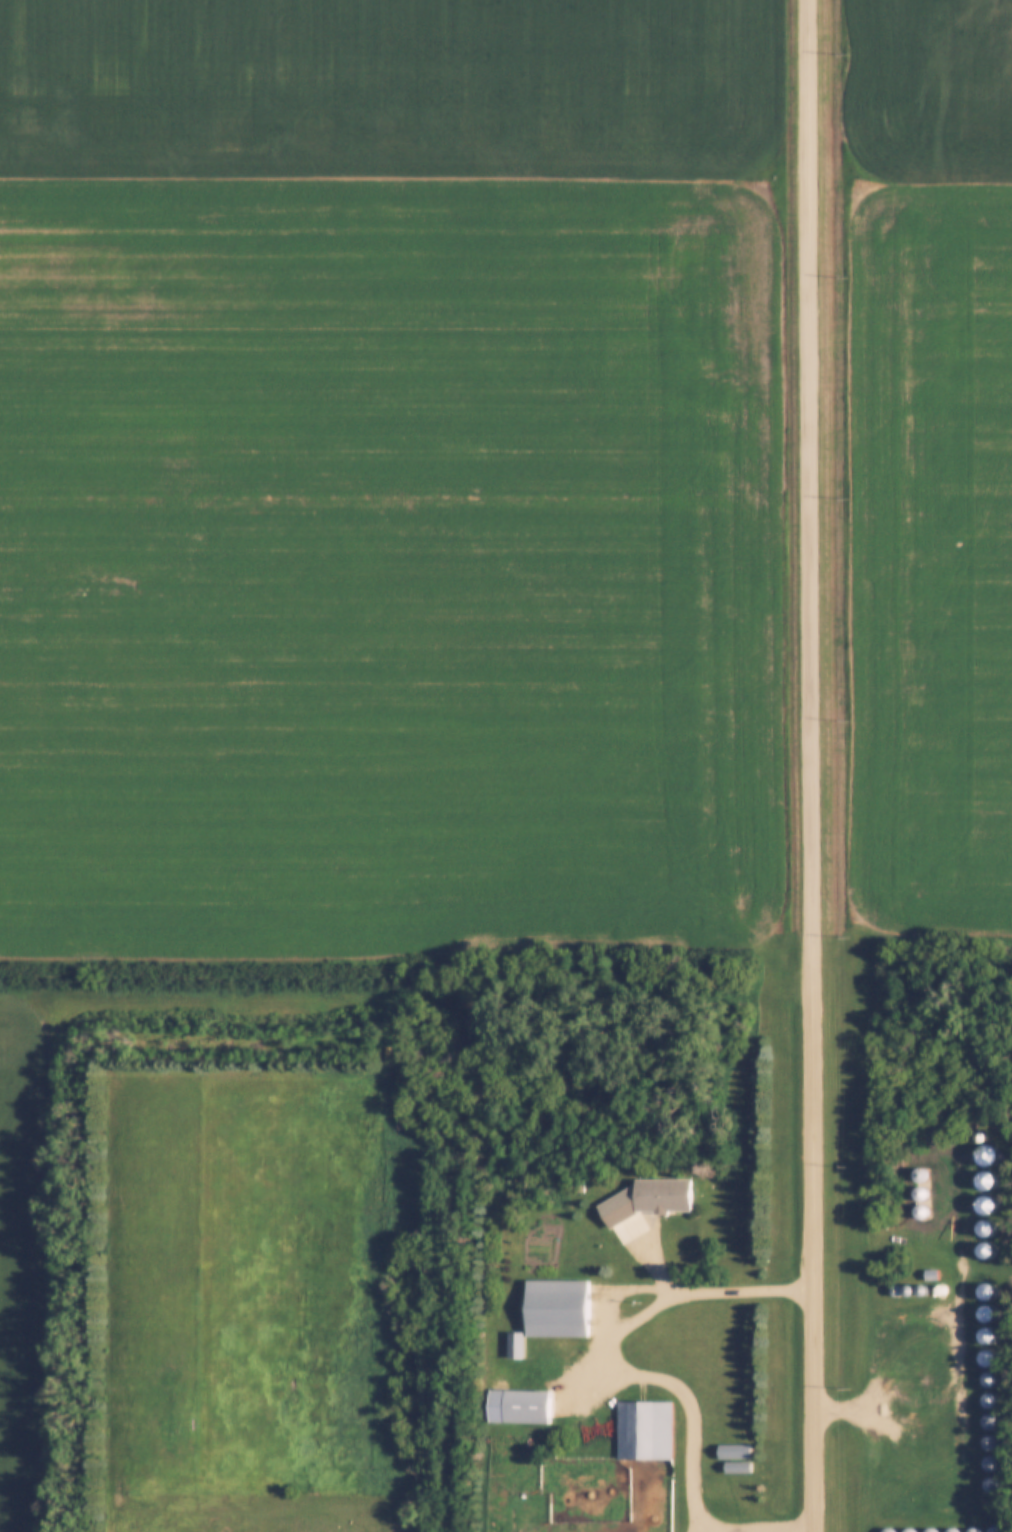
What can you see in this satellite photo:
road: (811, 766)
building: (650, 1198)
building: (558, 1308)
building: (516, 1345)
building: (961, 1356)
road: (654, 1373)
building: (529, 1407)
building: (644, 1430)
building: (987, 1442)
building: (735, 1451)
building: (988, 1463)
building: (886, 1530)
building: (908, 1530)

